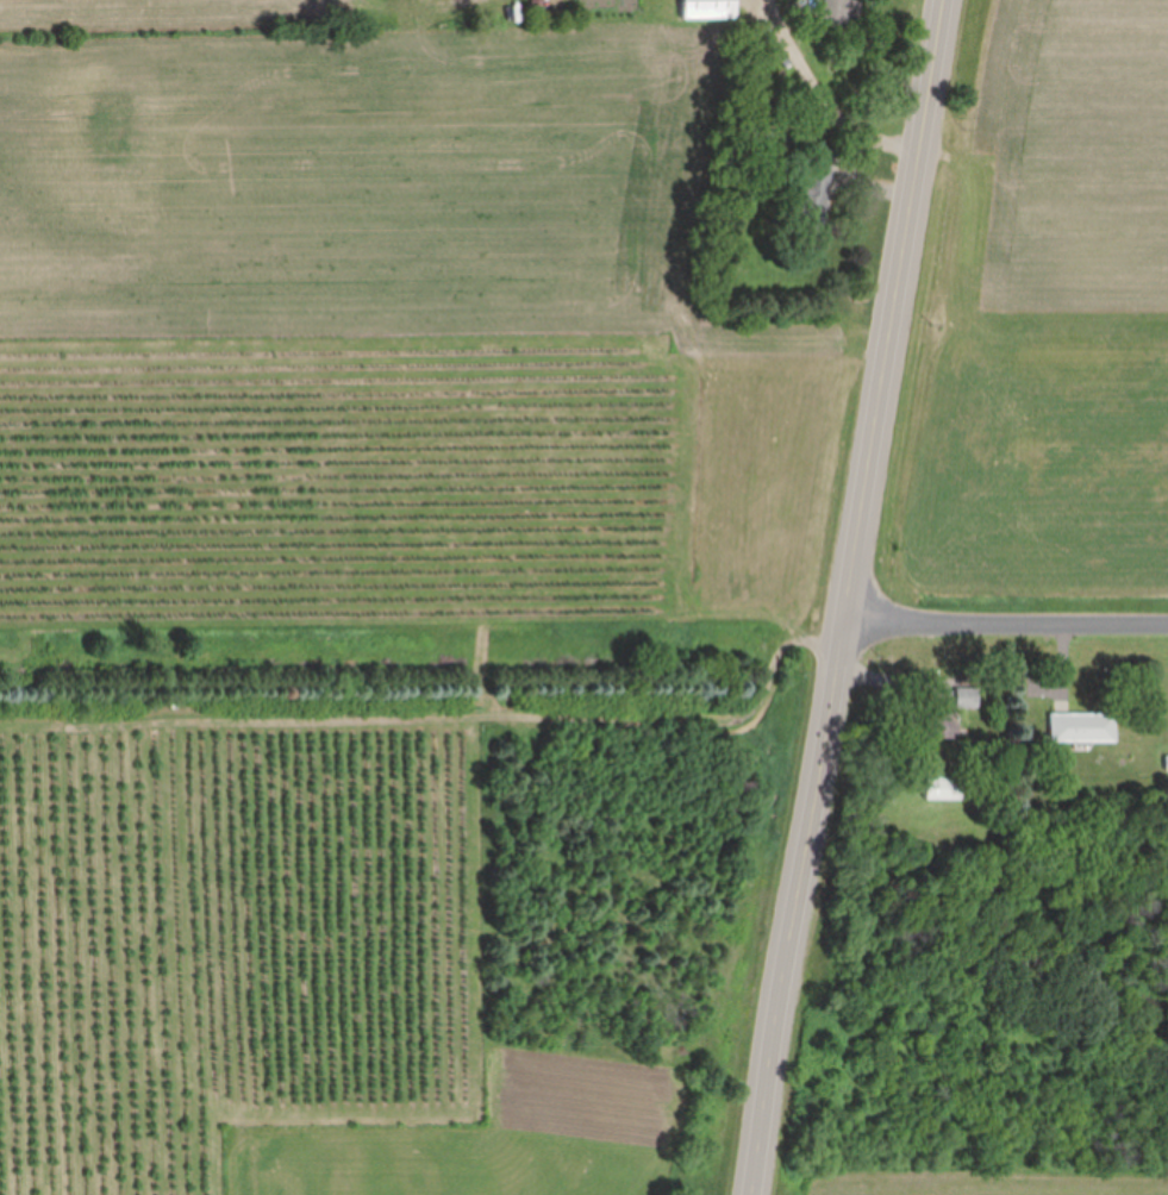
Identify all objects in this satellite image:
building: (710, 8)
building: (842, 12)
road: (824, 101)
building: (812, 198)
road: (851, 597)
road: (1008, 617)
building: (967, 696)
building: (943, 724)
building: (1083, 726)
building: (943, 787)

